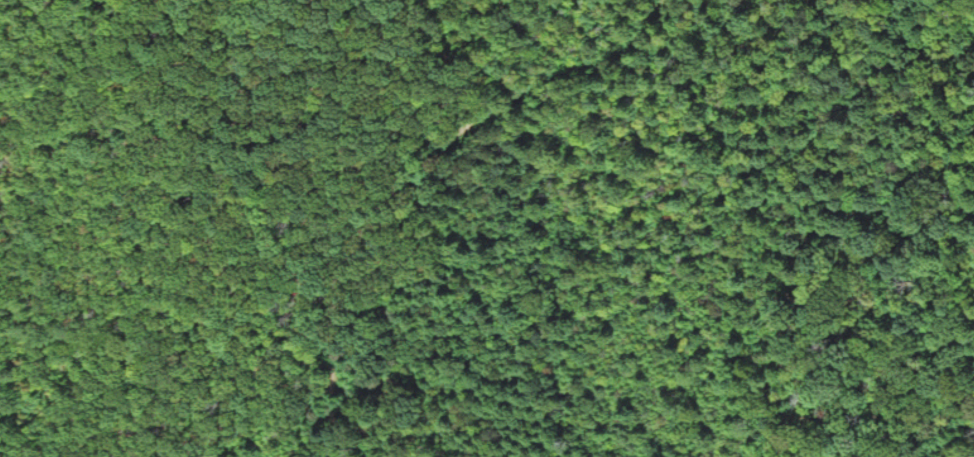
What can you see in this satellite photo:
road: (411, 177)

